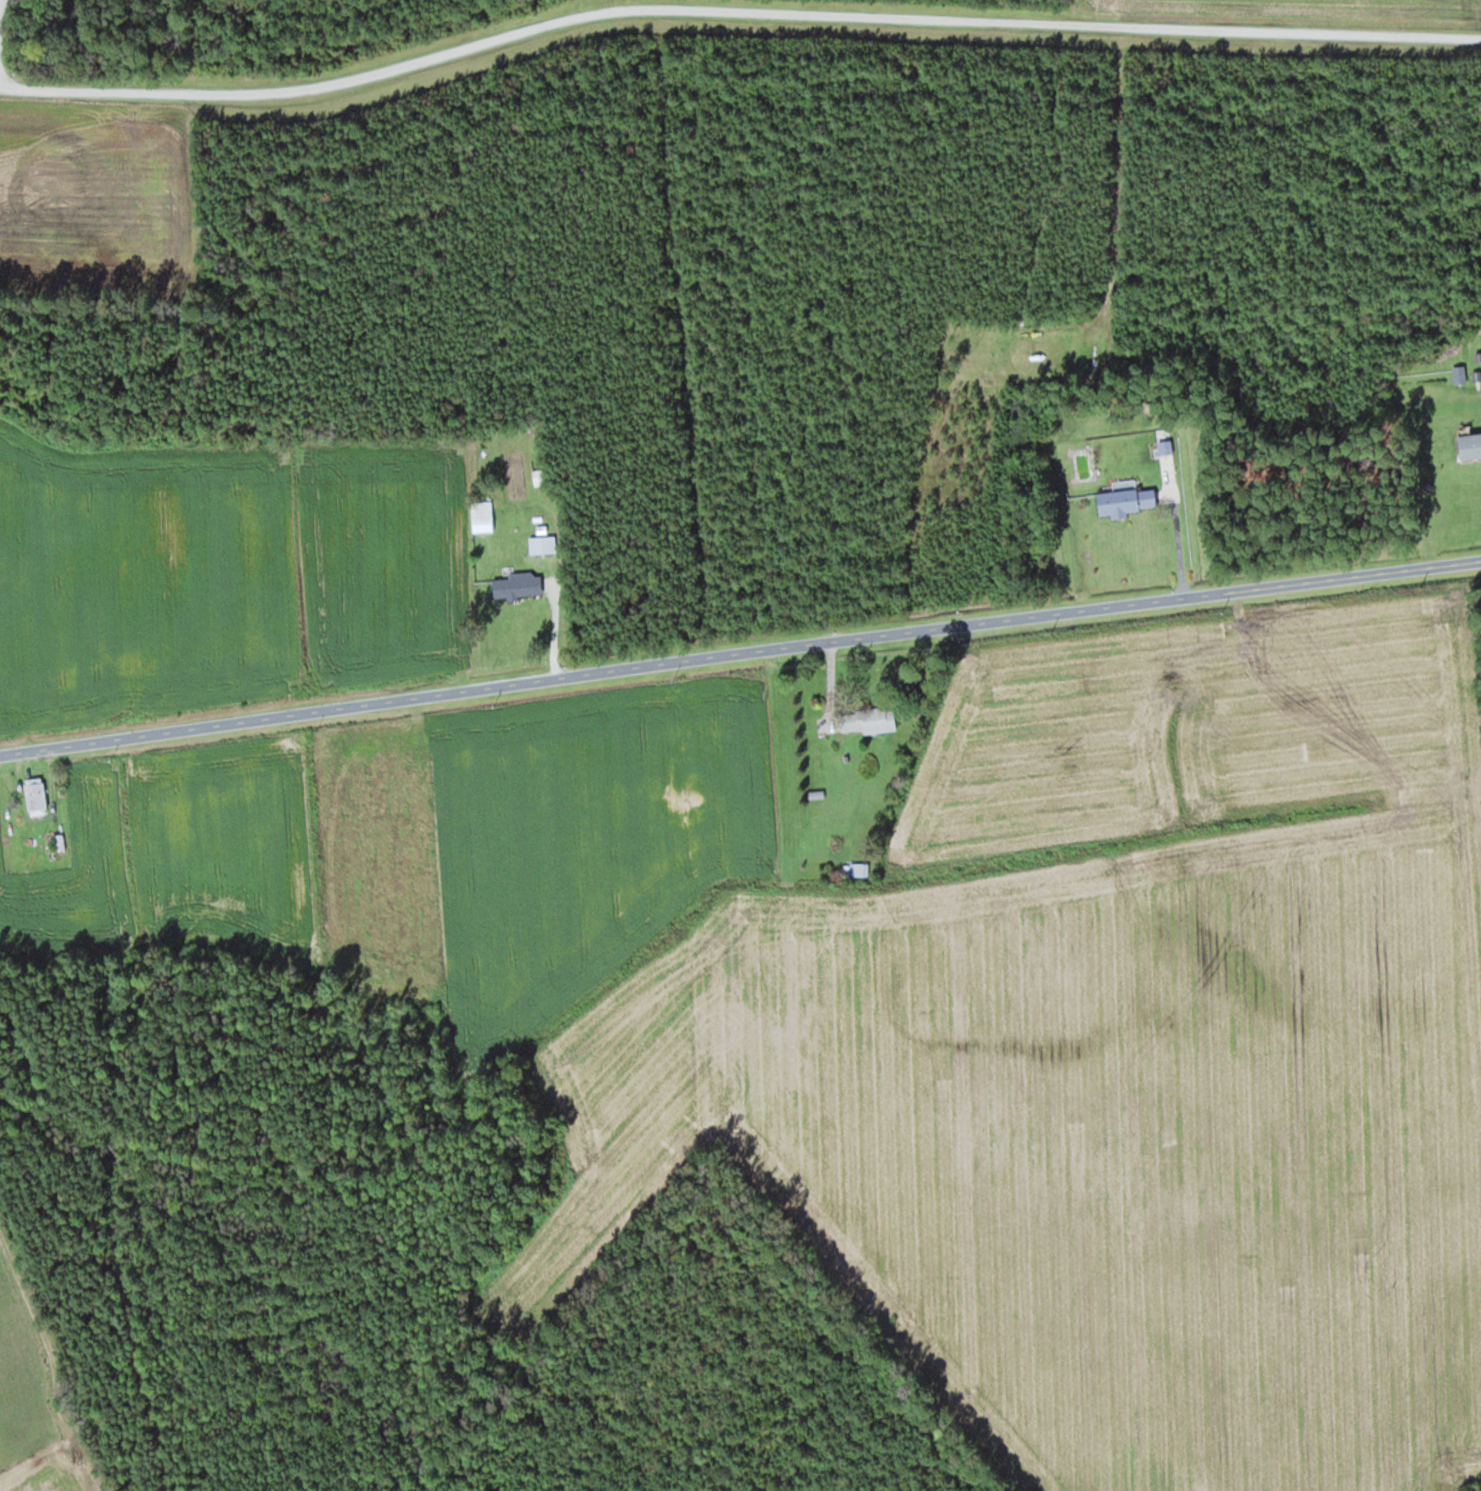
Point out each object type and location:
road: (735, 11)
building: (1460, 374)
building: (1470, 444)
building: (1169, 467)
building: (539, 474)
building: (1127, 500)
building: (483, 515)
building: (543, 543)
building: (519, 584)
road: (740, 653)
building: (869, 719)
building: (36, 795)

